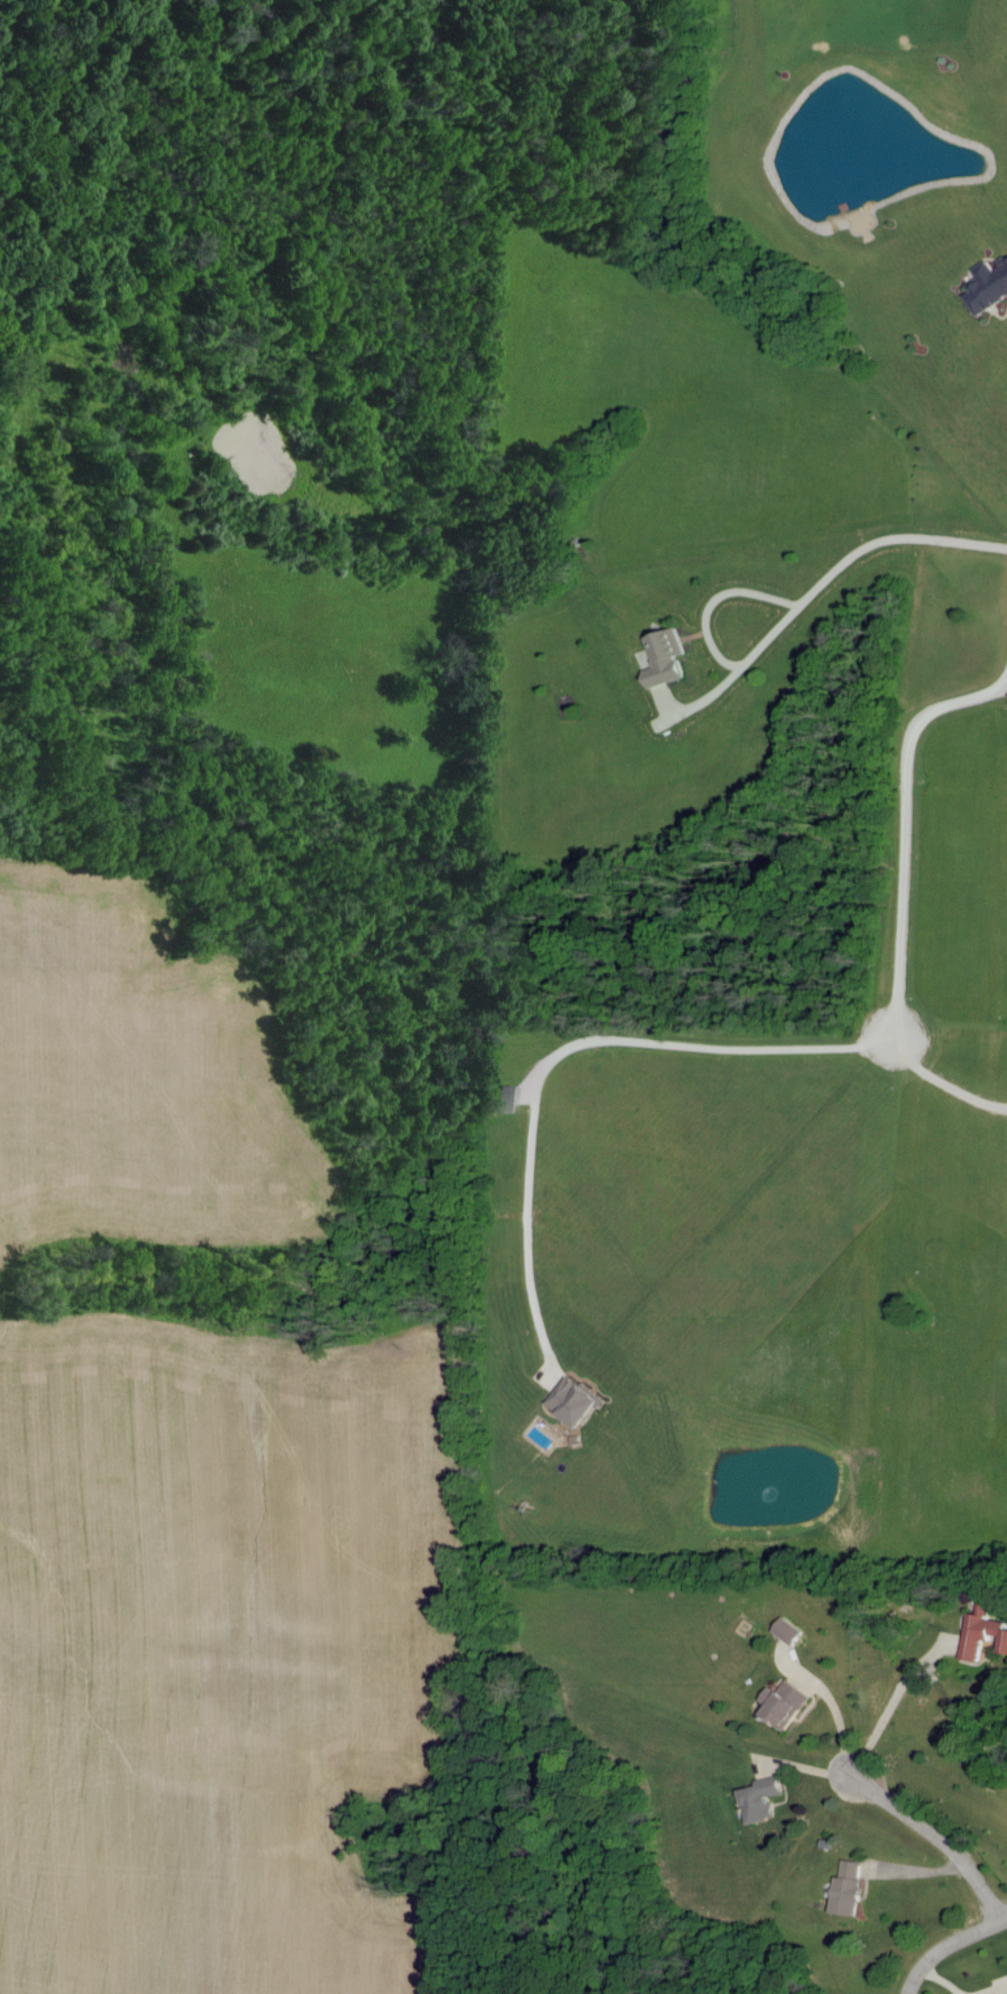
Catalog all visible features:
building: (987, 285)
building: (665, 657)
road: (995, 689)
road: (887, 761)
building: (507, 1098)
building: (575, 1400)
building: (788, 1630)
building: (982, 1631)
road: (891, 1701)
building: (784, 1703)
building: (761, 1799)
road: (939, 1831)
building: (848, 1887)
road: (952, 1946)

